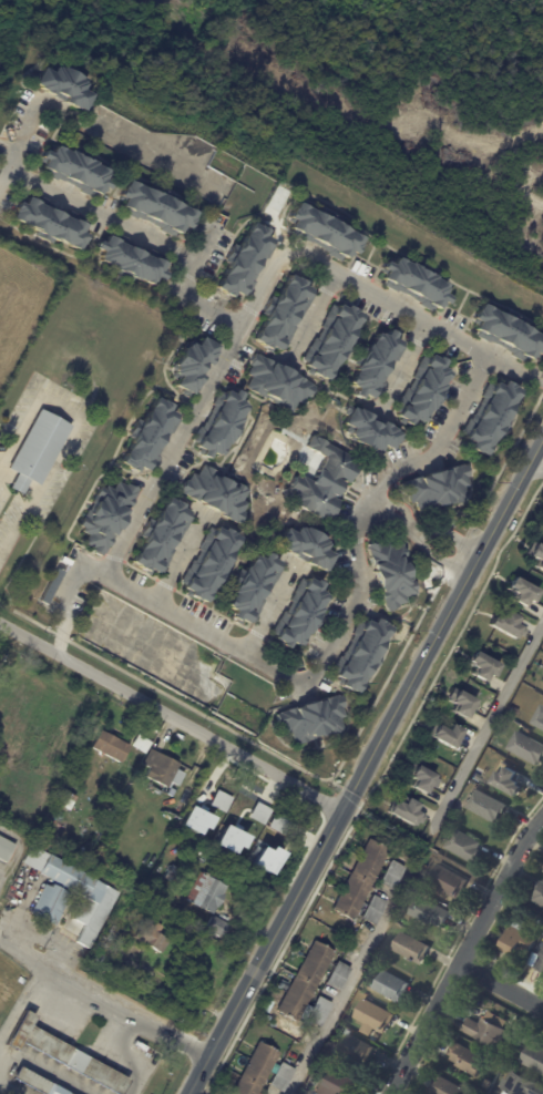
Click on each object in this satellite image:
building: (63, 86)
road: (19, 145)
building: (76, 171)
building: (156, 209)
road: (101, 216)
building: (52, 223)
building: (325, 234)
building: (131, 259)
building: (246, 262)
building: (417, 285)
road: (183, 295)
building: (284, 314)
road: (254, 320)
road: (314, 321)
building: (509, 334)
building: (332, 340)
building: (375, 364)
building: (194, 366)
road: (402, 367)
road: (514, 374)
building: (278, 384)
building: (423, 391)
building: (490, 417)
building: (222, 423)
building: (371, 431)
road: (72, 433)
building: (152, 438)
building: (38, 451)
road: (536, 454)
road: (536, 469)
building: (322, 481)
building: (438, 488)
building: (217, 494)
road: (373, 501)
building: (107, 517)
road: (431, 526)
building: (163, 536)
road: (421, 544)
building: (307, 548)
building: (536, 554)
road: (178, 561)
building: (212, 564)
building: (392, 574)
building: (254, 587)
building: (523, 592)
road: (271, 610)
building: (300, 614)
building: (508, 625)
road: (332, 653)
building: (363, 655)
building: (482, 666)
building: (462, 702)
road: (173, 716)
building: (313, 719)
building: (505, 720)
building: (541, 720)
building: (520, 725)
road: (488, 730)
building: (445, 735)
building: (142, 744)
building: (110, 746)
building: (527, 748)
building: (162, 769)
building: (422, 778)
building: (79, 779)
road: (362, 779)
building: (510, 781)
building: (66, 799)
building: (219, 801)
building: (489, 805)
building: (407, 811)
building: (265, 816)
building: (194, 820)
building: (178, 835)
building: (228, 840)
building: (50, 843)
building: (467, 846)
building: (6, 850)
building: (209, 851)
building: (265, 859)
building: (154, 872)
building: (172, 873)
building: (395, 875)
building: (362, 879)
building: (449, 880)
building: (207, 892)
building: (81, 893)
building: (540, 896)
building: (51, 903)
building: (376, 910)
building: (431, 912)
building: (217, 927)
building: (112, 933)
building: (152, 935)
building: (520, 940)
building: (102, 947)
building: (411, 949)
building: (542, 955)
road: (467, 957)
building: (541, 967)
building: (339, 977)
building: (306, 981)
road: (349, 981)
road: (503, 984)
building: (395, 986)
road: (107, 996)
building: (320, 1011)
building: (376, 1018)
building: (490, 1030)
building: (349, 1032)
building: (336, 1050)
building: (360, 1050)
building: (65, 1054)
building: (511, 1055)
building: (328, 1056)
building: (535, 1057)
building: (468, 1059)
building: (508, 1066)
building: (257, 1070)
building: (283, 1077)
building: (37, 1082)
building: (340, 1084)
building: (489, 1084)
building: (521, 1084)
building: (447, 1086)

